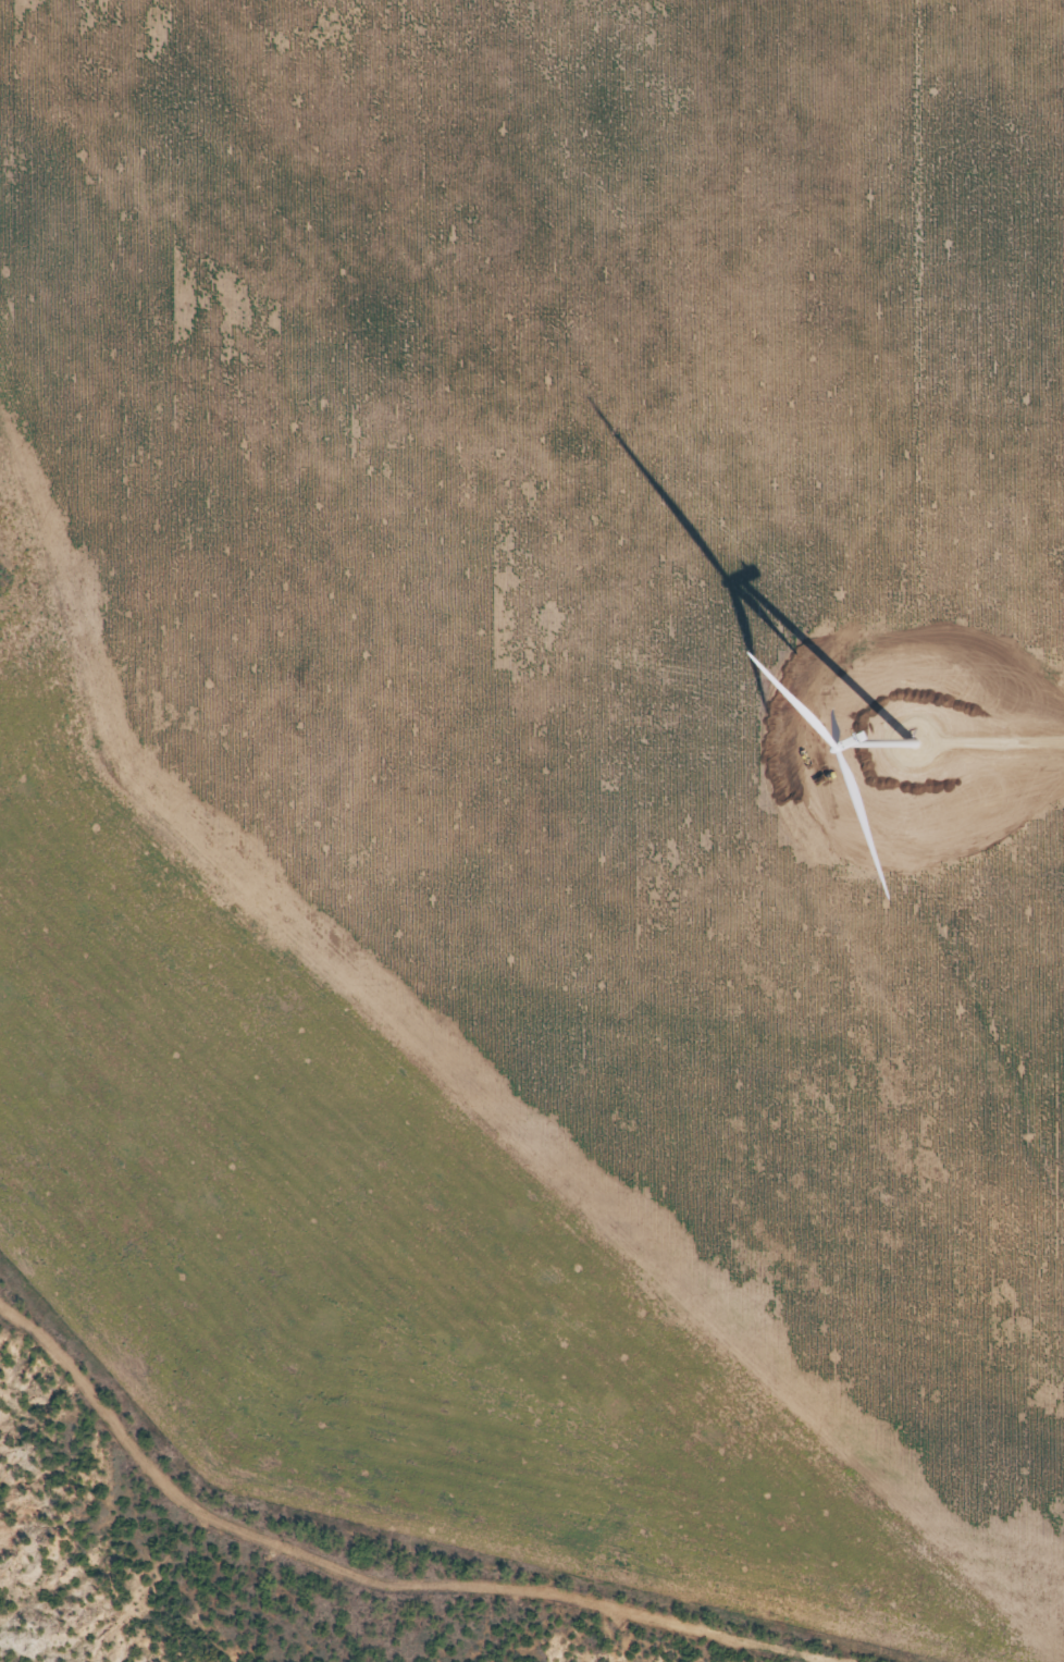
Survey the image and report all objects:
wind turbine: (907, 744)
road: (456, 998)

